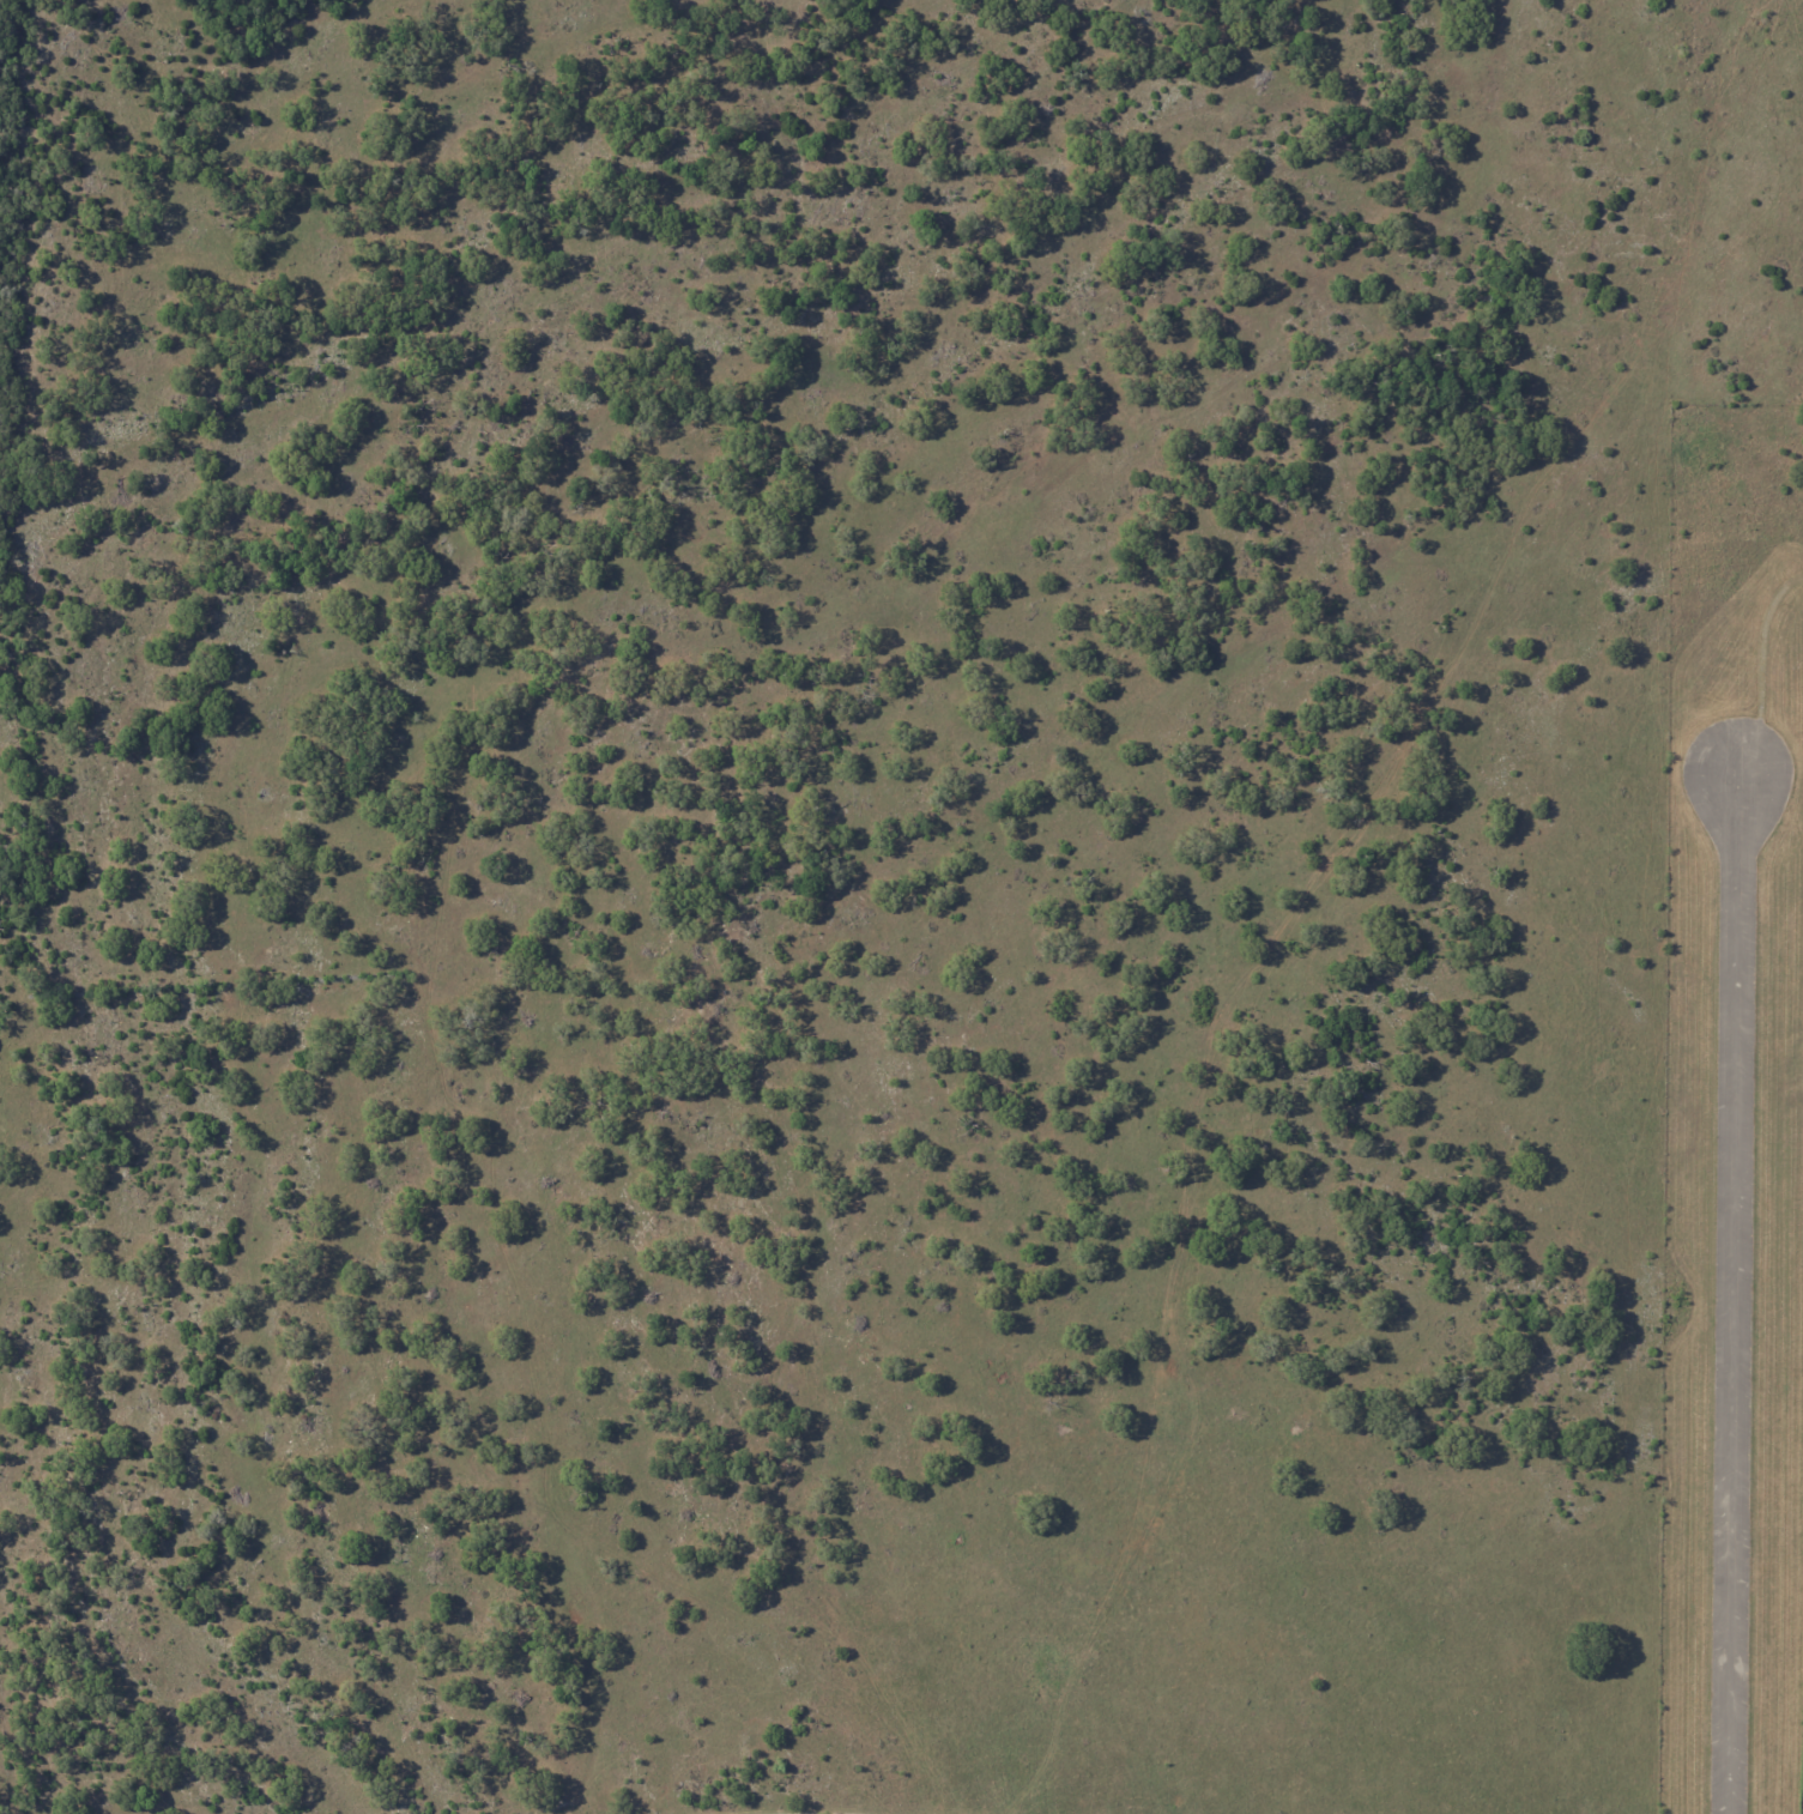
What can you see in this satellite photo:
airport runway: (1730, 1276)

